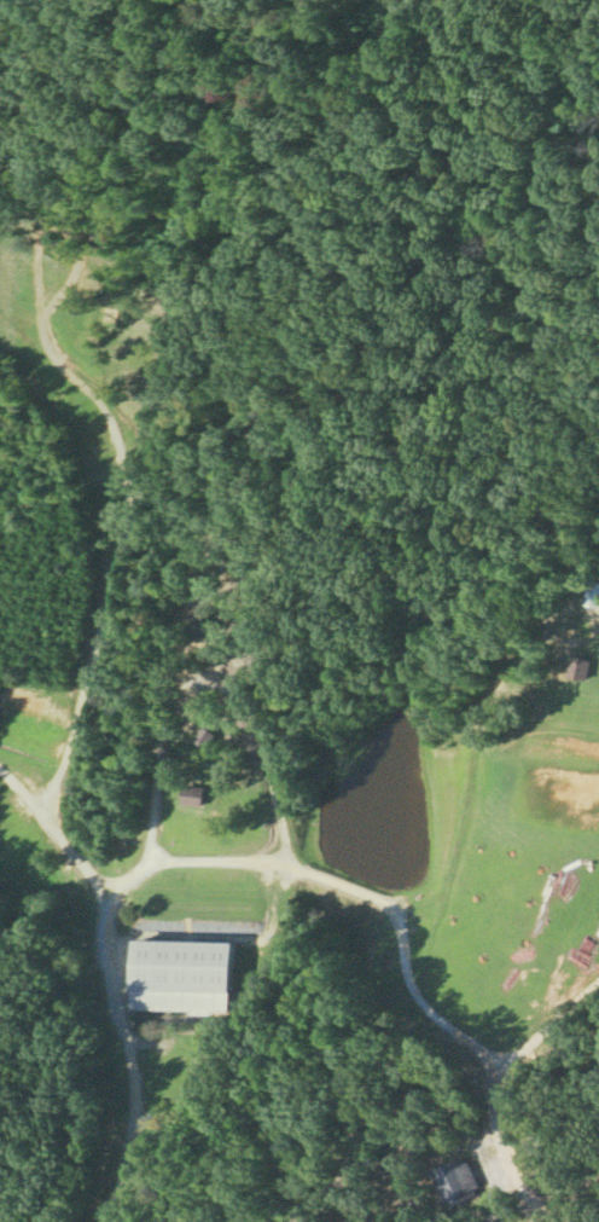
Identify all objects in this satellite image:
building: (591, 591)
building: (193, 622)
building: (576, 666)
building: (202, 735)
building: (191, 794)
road: (56, 833)
road: (176, 863)
building: (182, 974)
road: (547, 1025)
road: (501, 1142)
building: (455, 1180)

